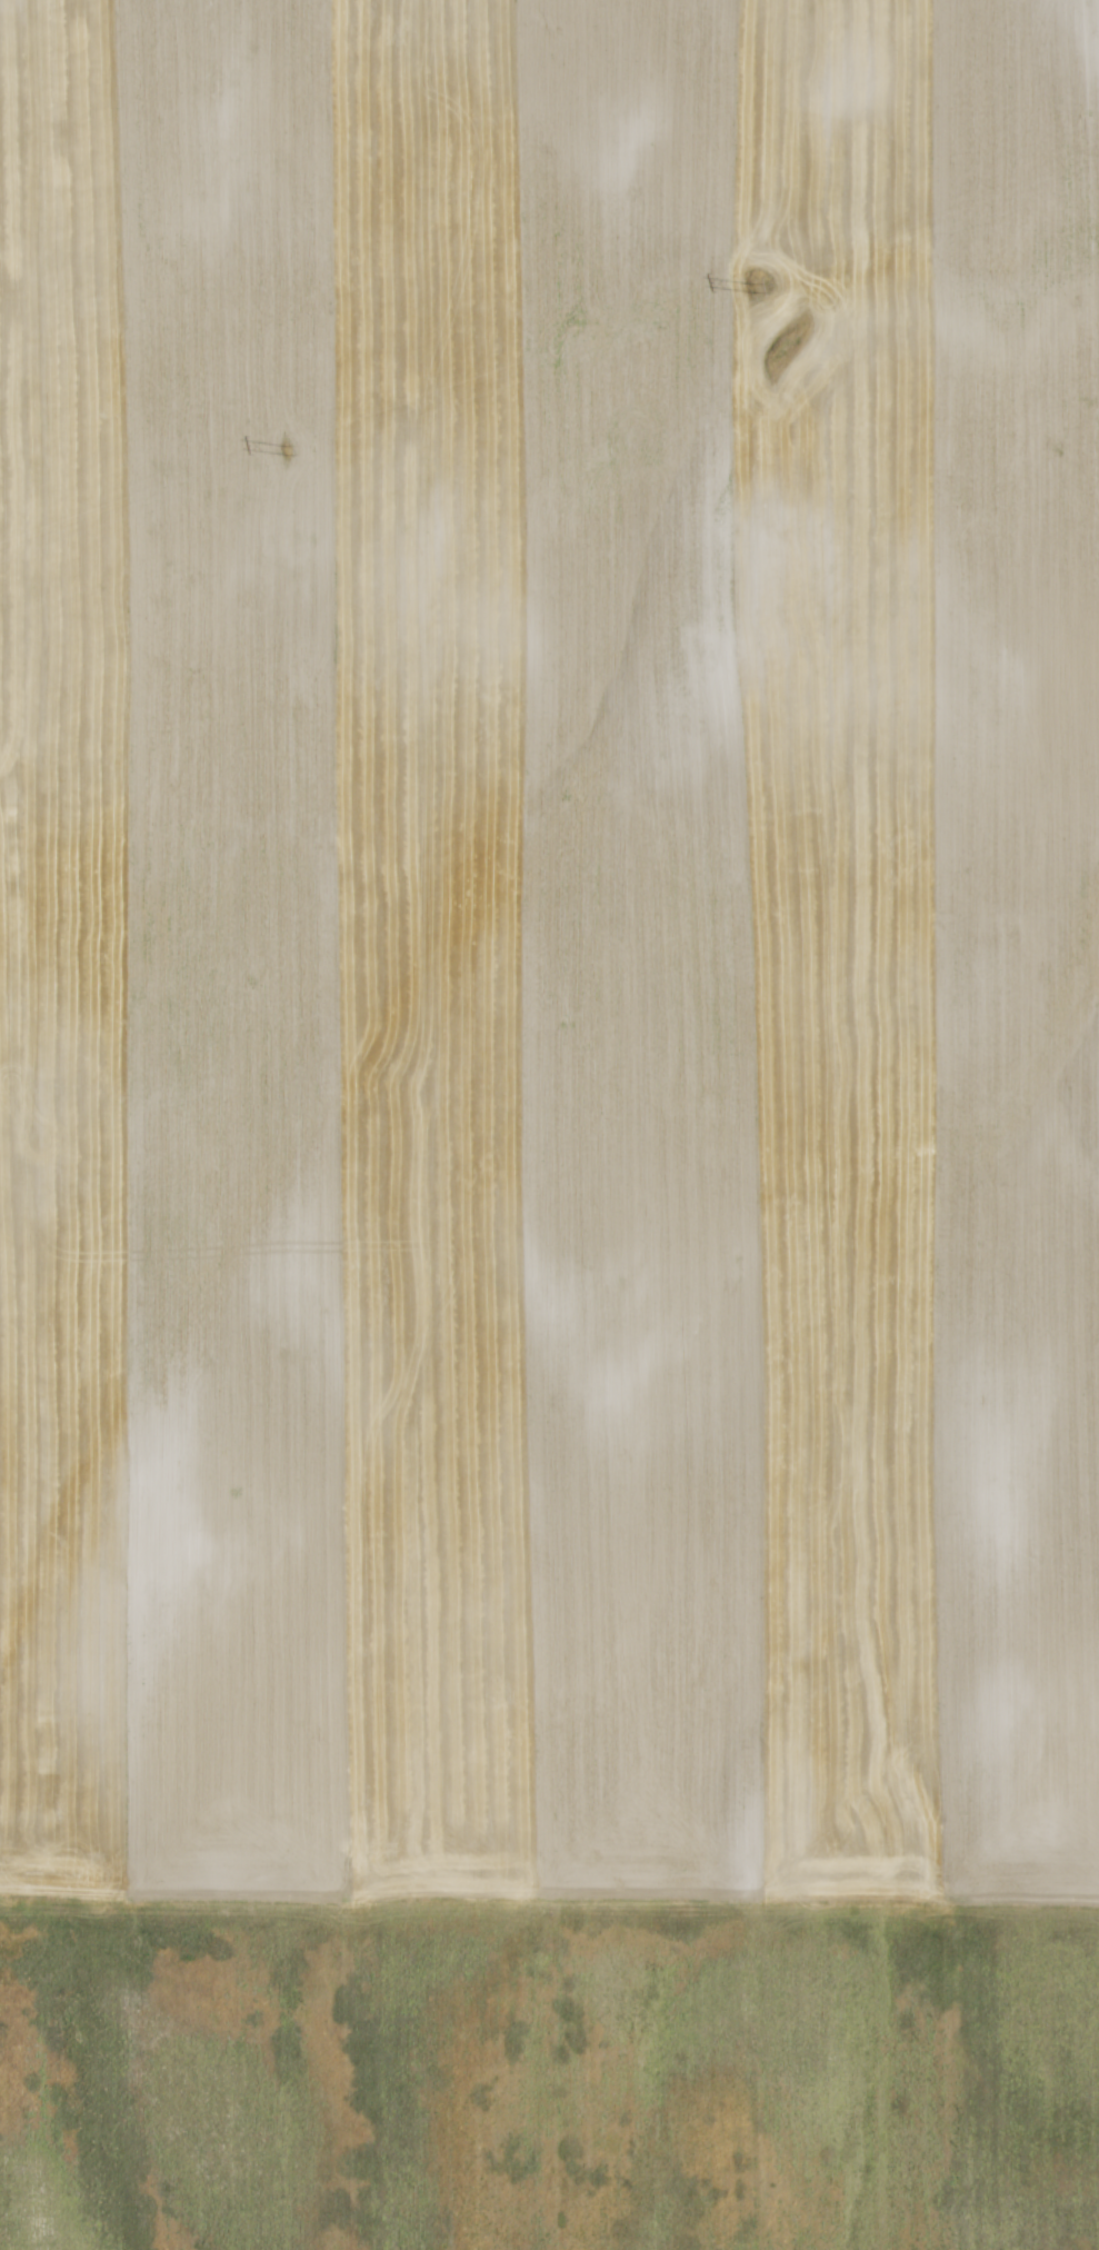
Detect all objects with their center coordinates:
power tower: (752, 287)
power tower: (286, 448)

